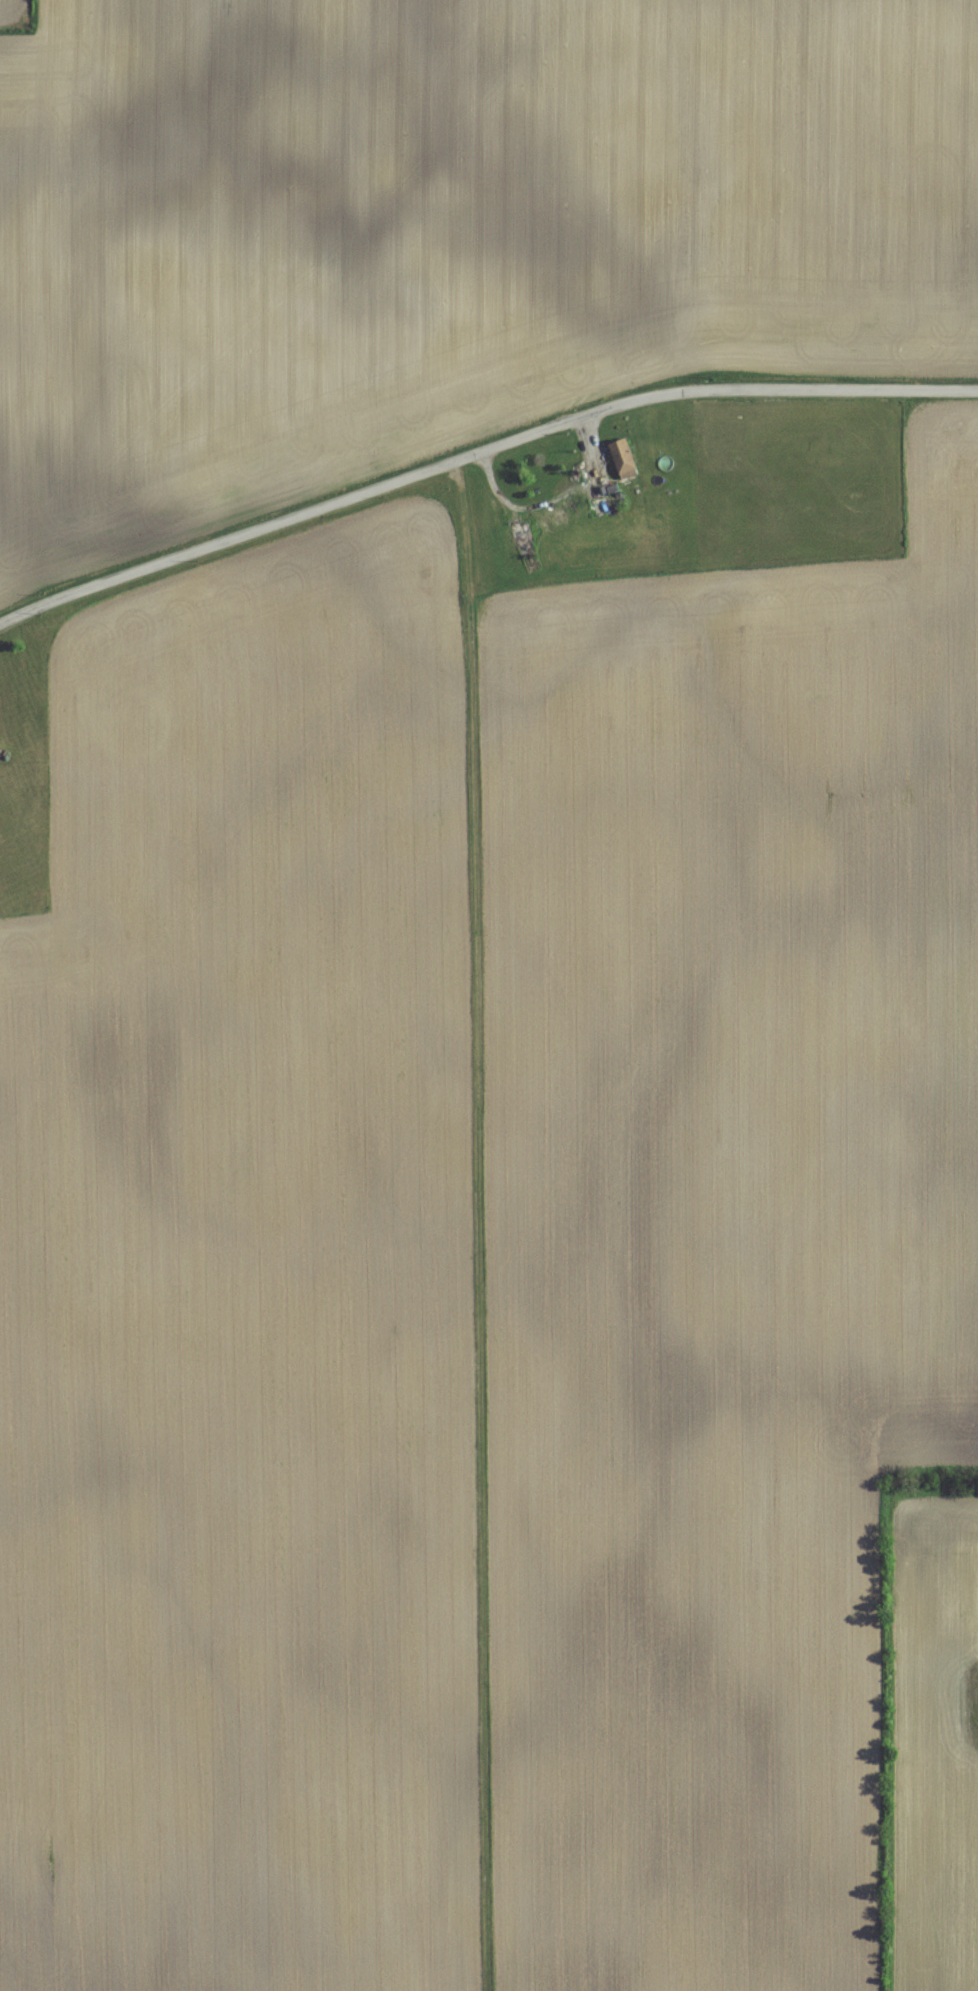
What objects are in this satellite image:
road: (478, 449)
building: (617, 458)

